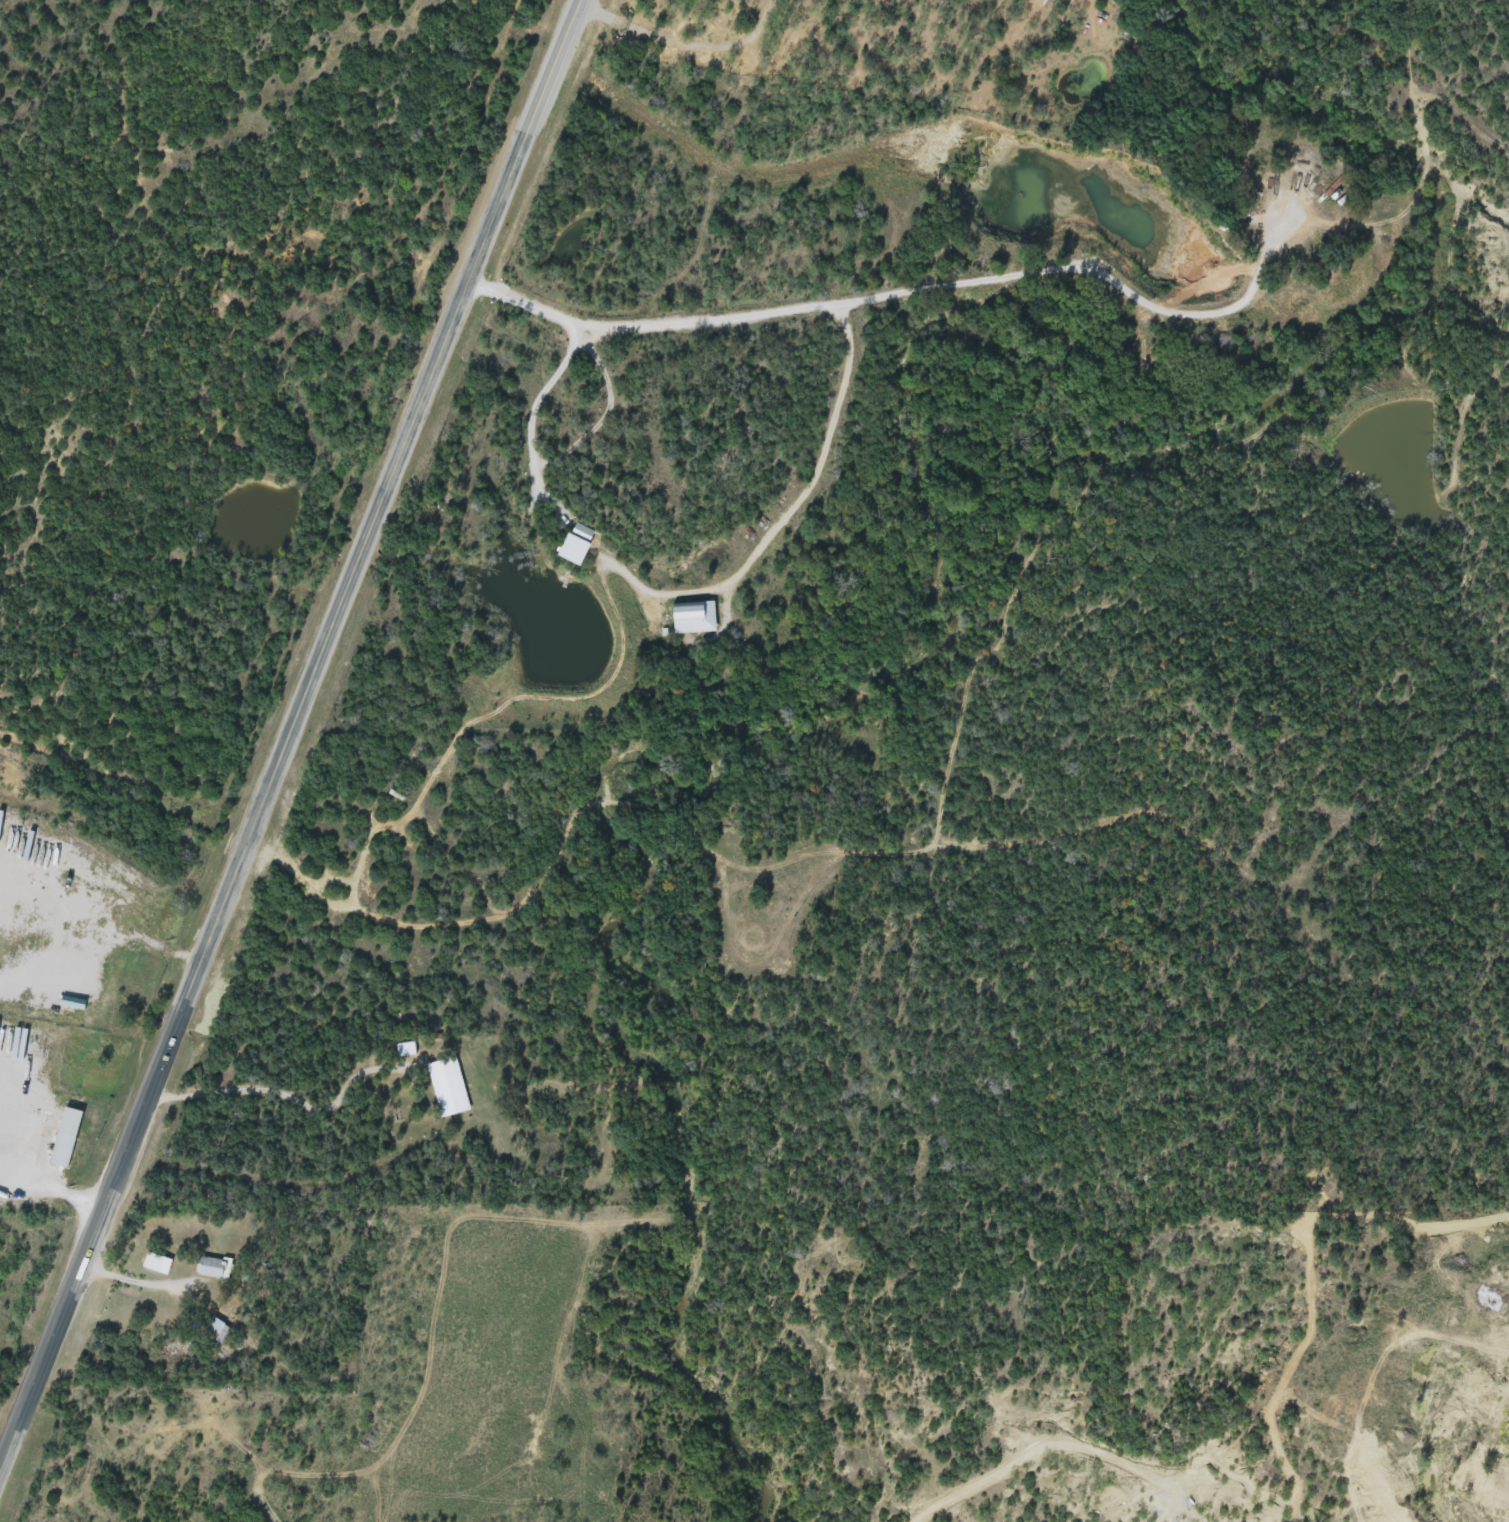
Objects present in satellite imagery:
building: (570, 543)
road: (286, 729)
road: (152, 948)
road: (54, 965)
building: (406, 1049)
building: (449, 1087)
building: (70, 1137)
road: (49, 1190)
building: (159, 1262)
building: (216, 1267)
road: (127, 1277)
road: (1035, 1443)

